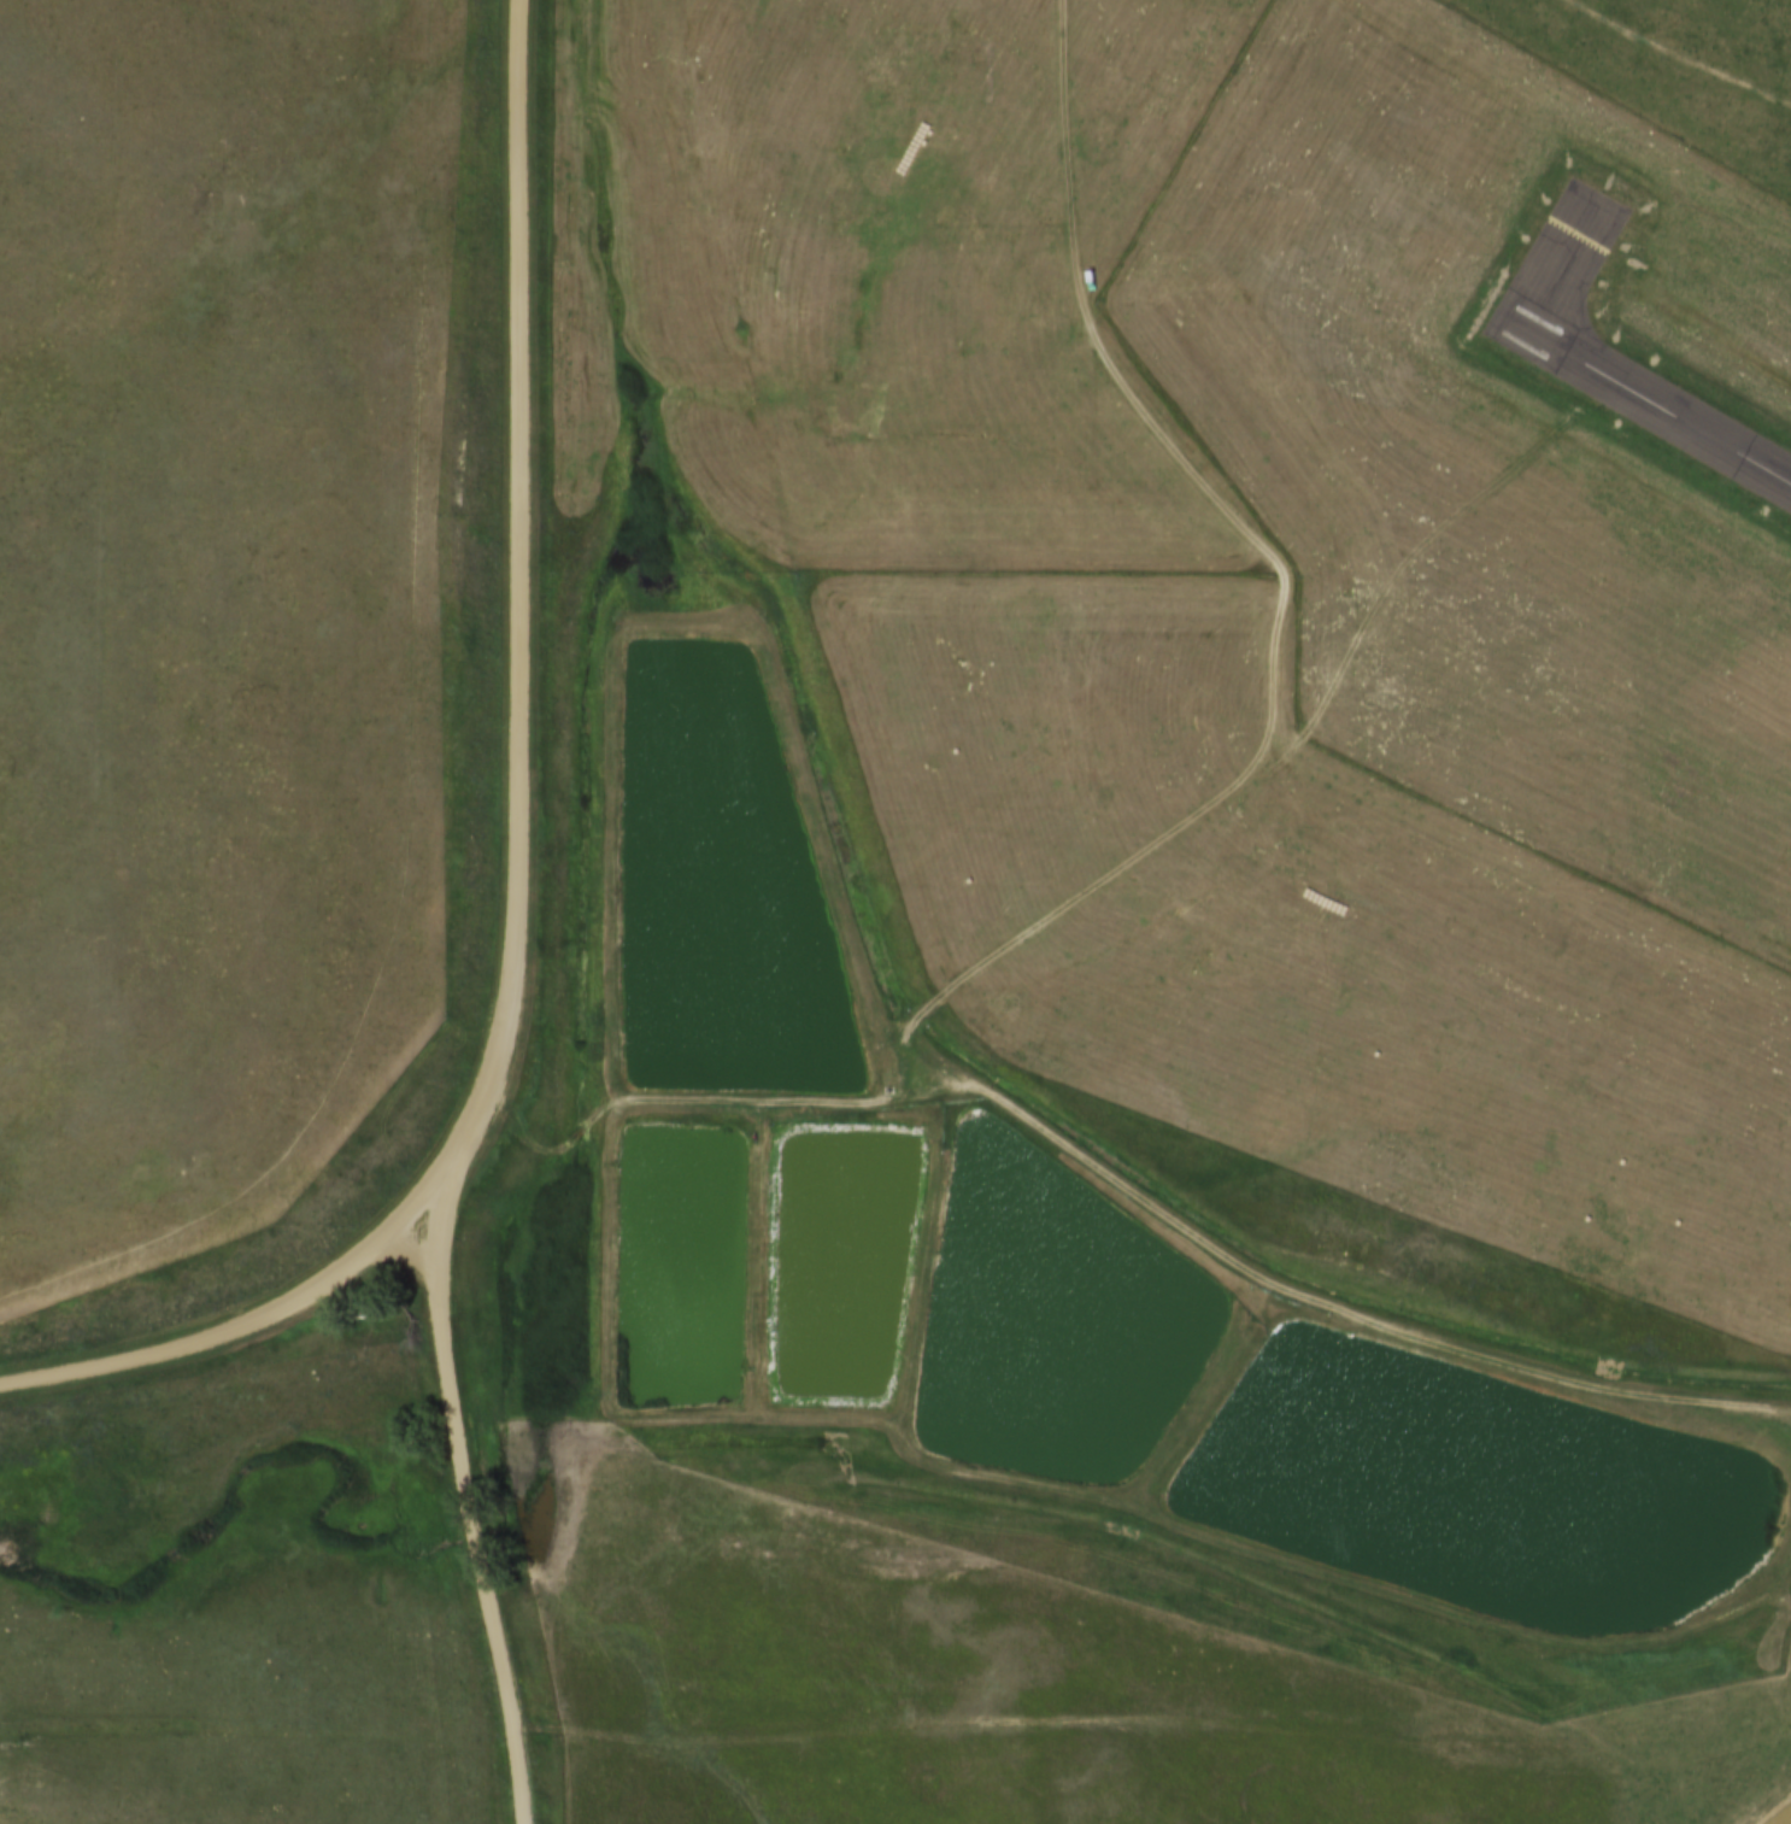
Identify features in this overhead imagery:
airport runway: (1643, 406)
airport: (1497, 446)
road: (523, 868)
road: (1121, 1177)
road: (231, 1330)
road: (511, 1770)

